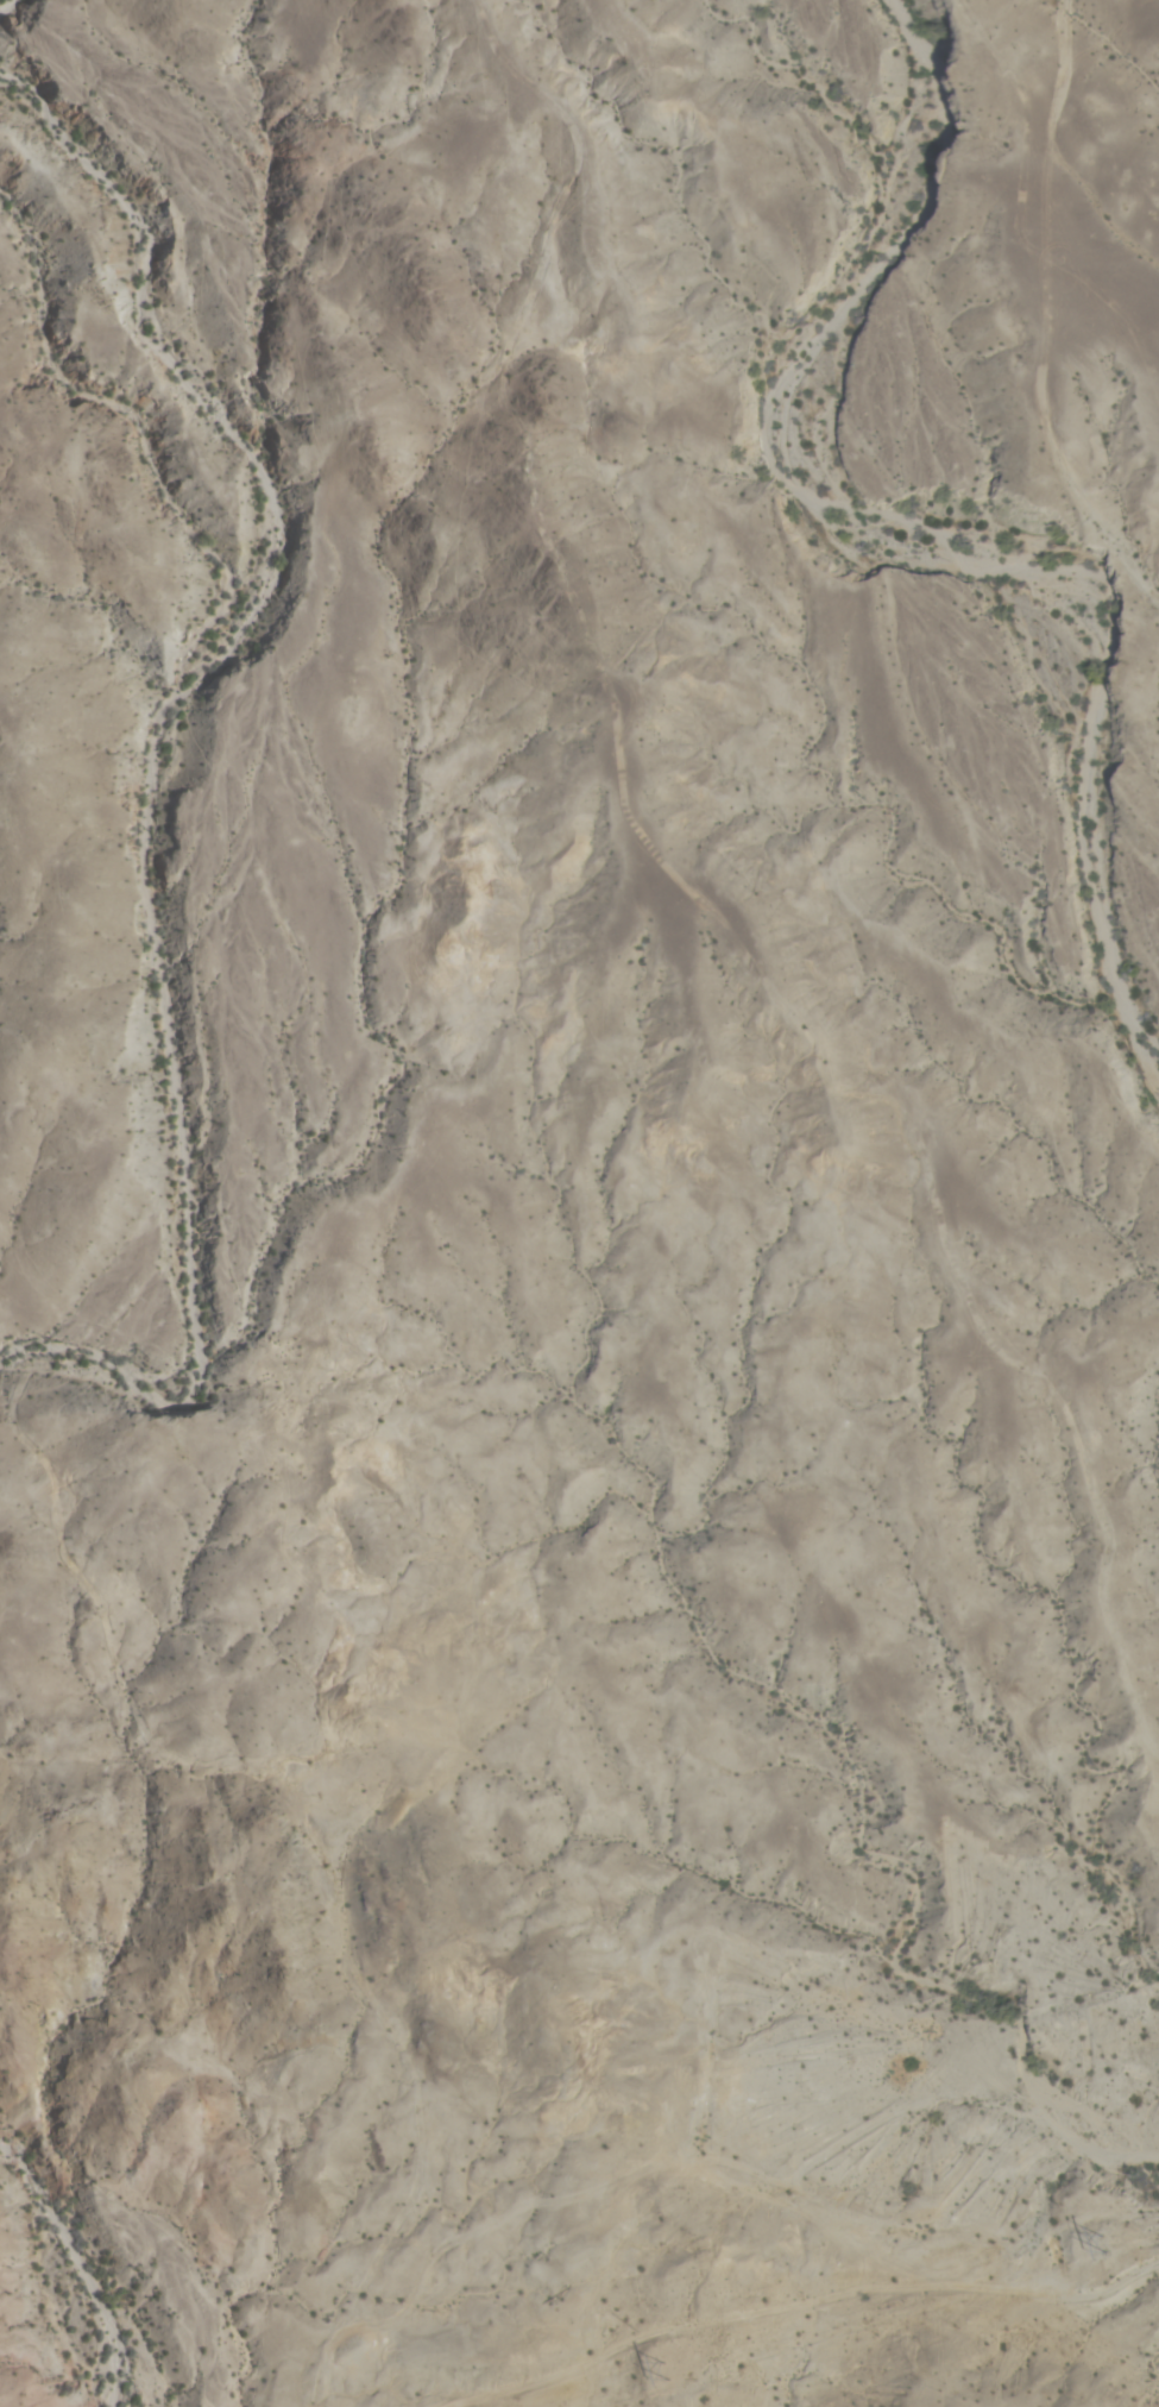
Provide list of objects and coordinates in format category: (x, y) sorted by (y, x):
power tower: (1119, 2243)
power tower: (673, 2370)

